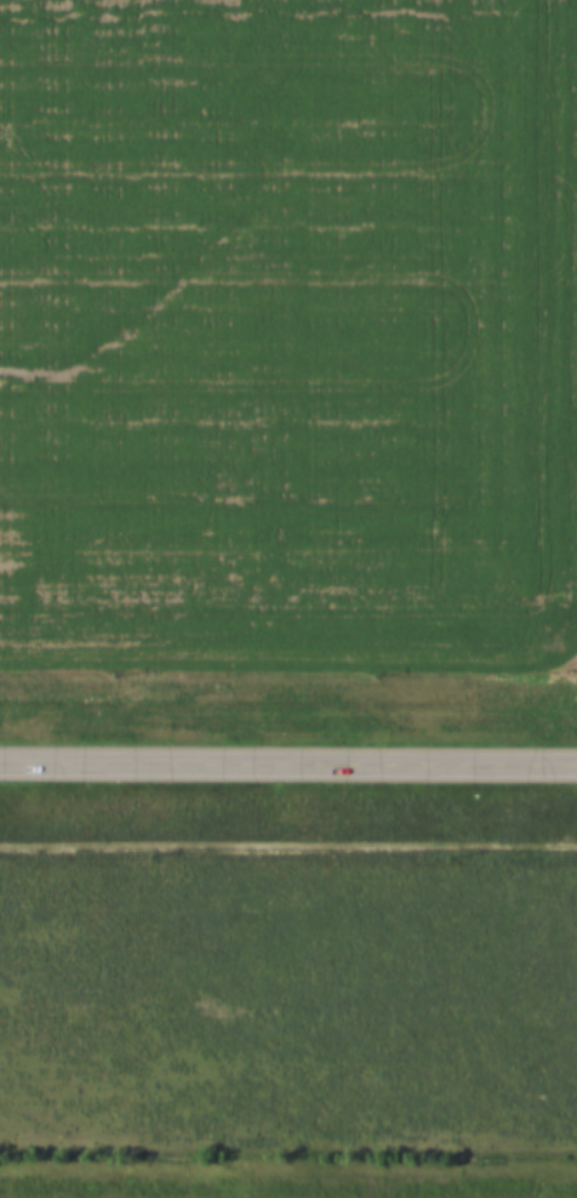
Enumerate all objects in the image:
road: (288, 767)

